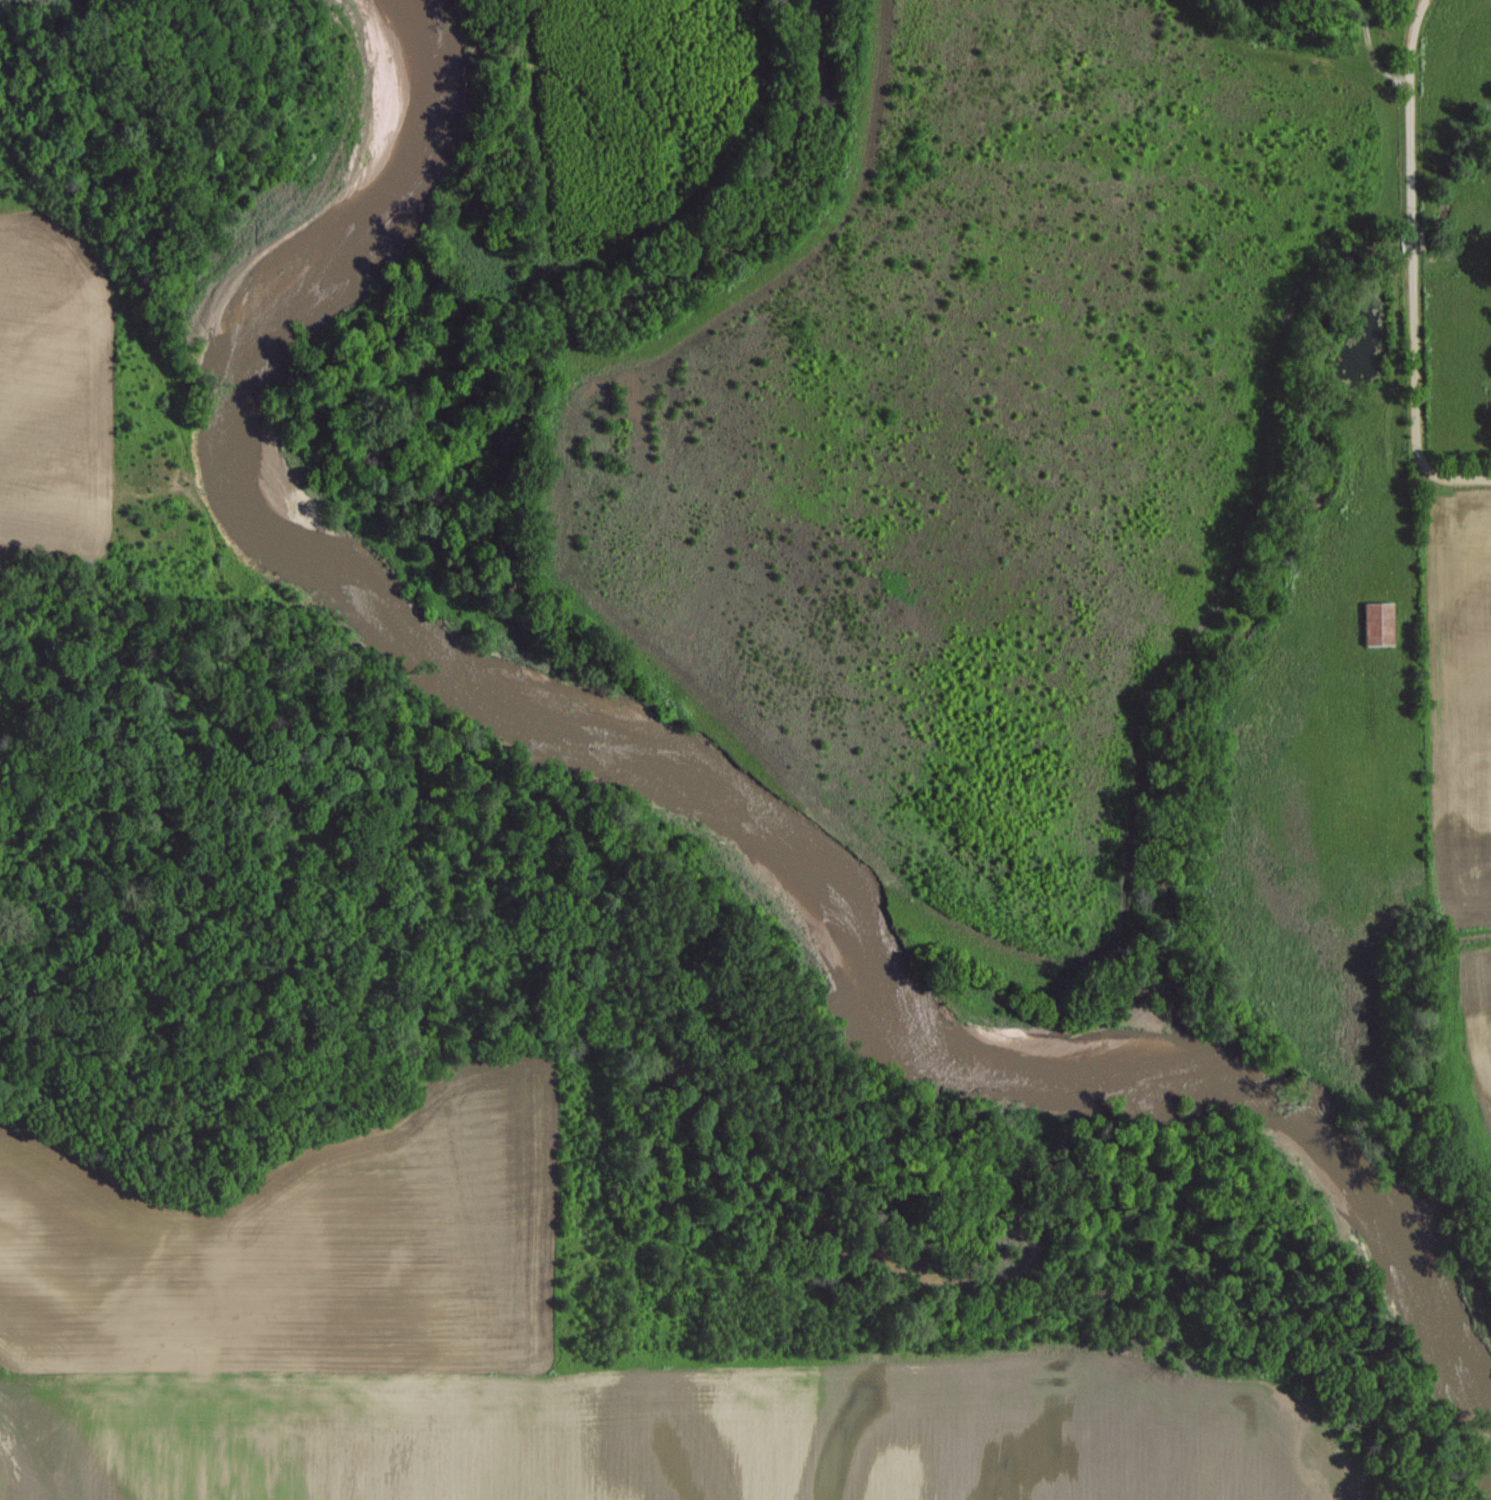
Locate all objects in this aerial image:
road: (1396, 280)
river: (715, 791)

